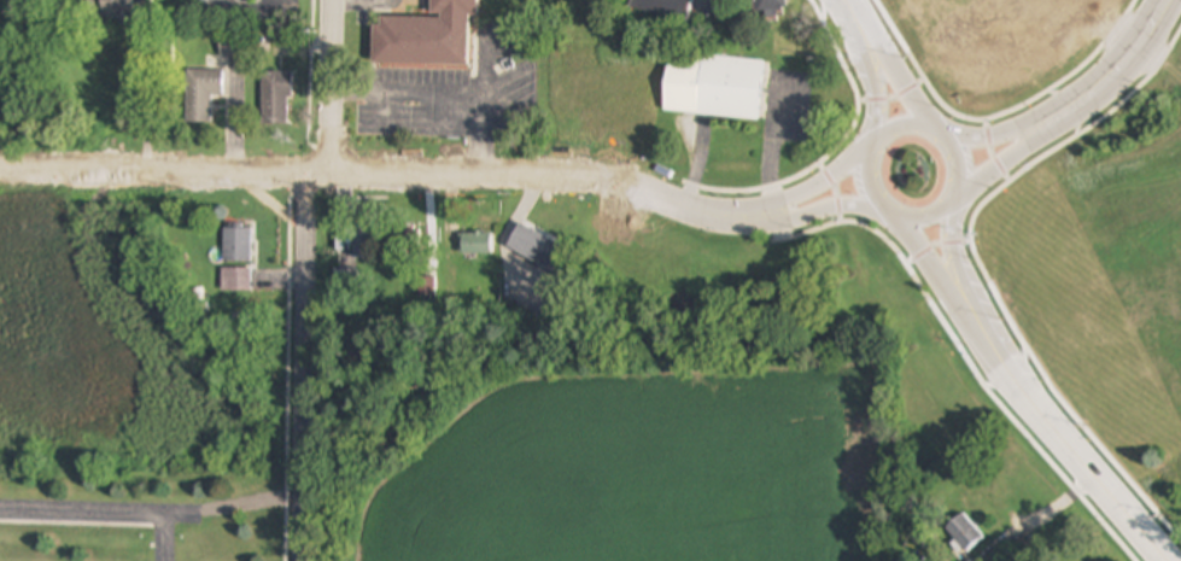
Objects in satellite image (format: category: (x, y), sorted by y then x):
road: (343, 0)
building: (766, 5)
building: (119, 7)
building: (662, 7)
road: (244, 14)
road: (853, 22)
building: (426, 37)
building: (230, 46)
road: (1126, 62)
road: (329, 82)
building: (730, 87)
road: (899, 87)
building: (201, 95)
road: (877, 97)
building: (275, 99)
road: (458, 105)
road: (898, 125)
road: (1007, 134)
road: (1016, 151)
road: (958, 156)
road: (373, 168)
road: (869, 186)
road: (806, 193)
road: (809, 211)
road: (929, 217)
building: (364, 244)
building: (475, 244)
building: (236, 245)
building: (536, 247)
road: (954, 252)
road: (931, 263)
building: (235, 281)
road: (303, 364)
road: (1058, 440)
crop: (600, 456)
road: (99, 512)
road: (1041, 518)
building: (964, 533)
road: (168, 538)

